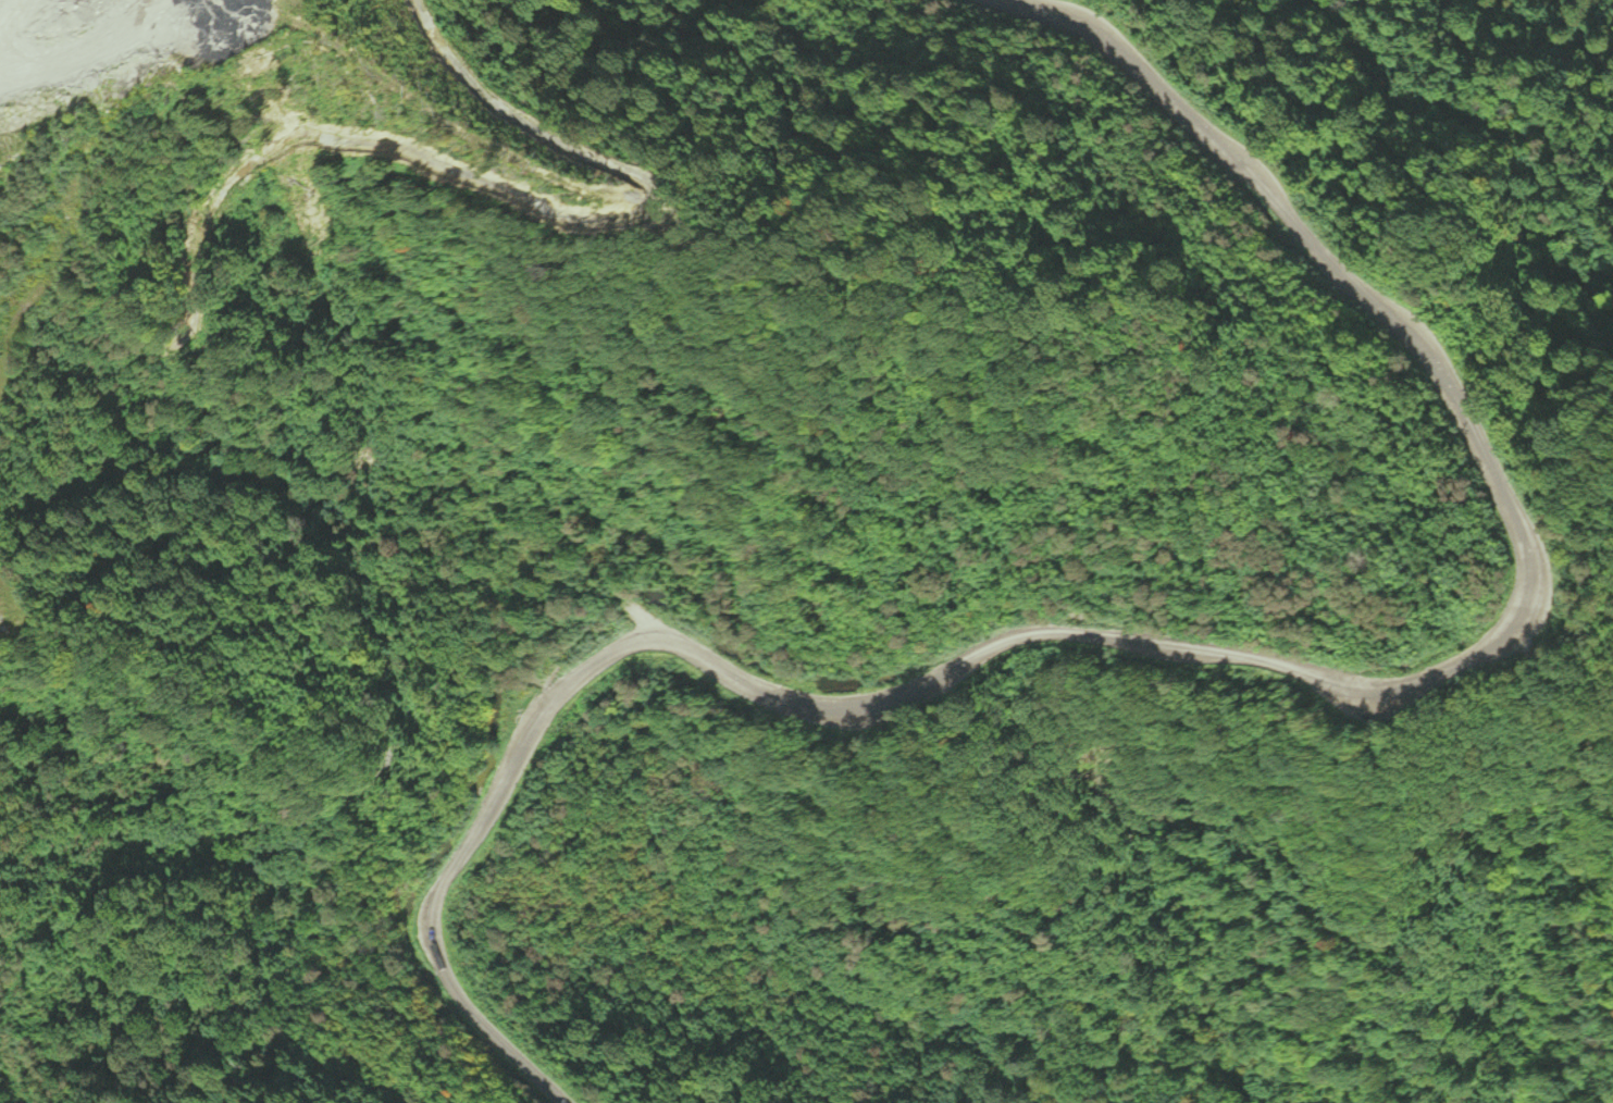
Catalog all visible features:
quarry: (213, 64)

